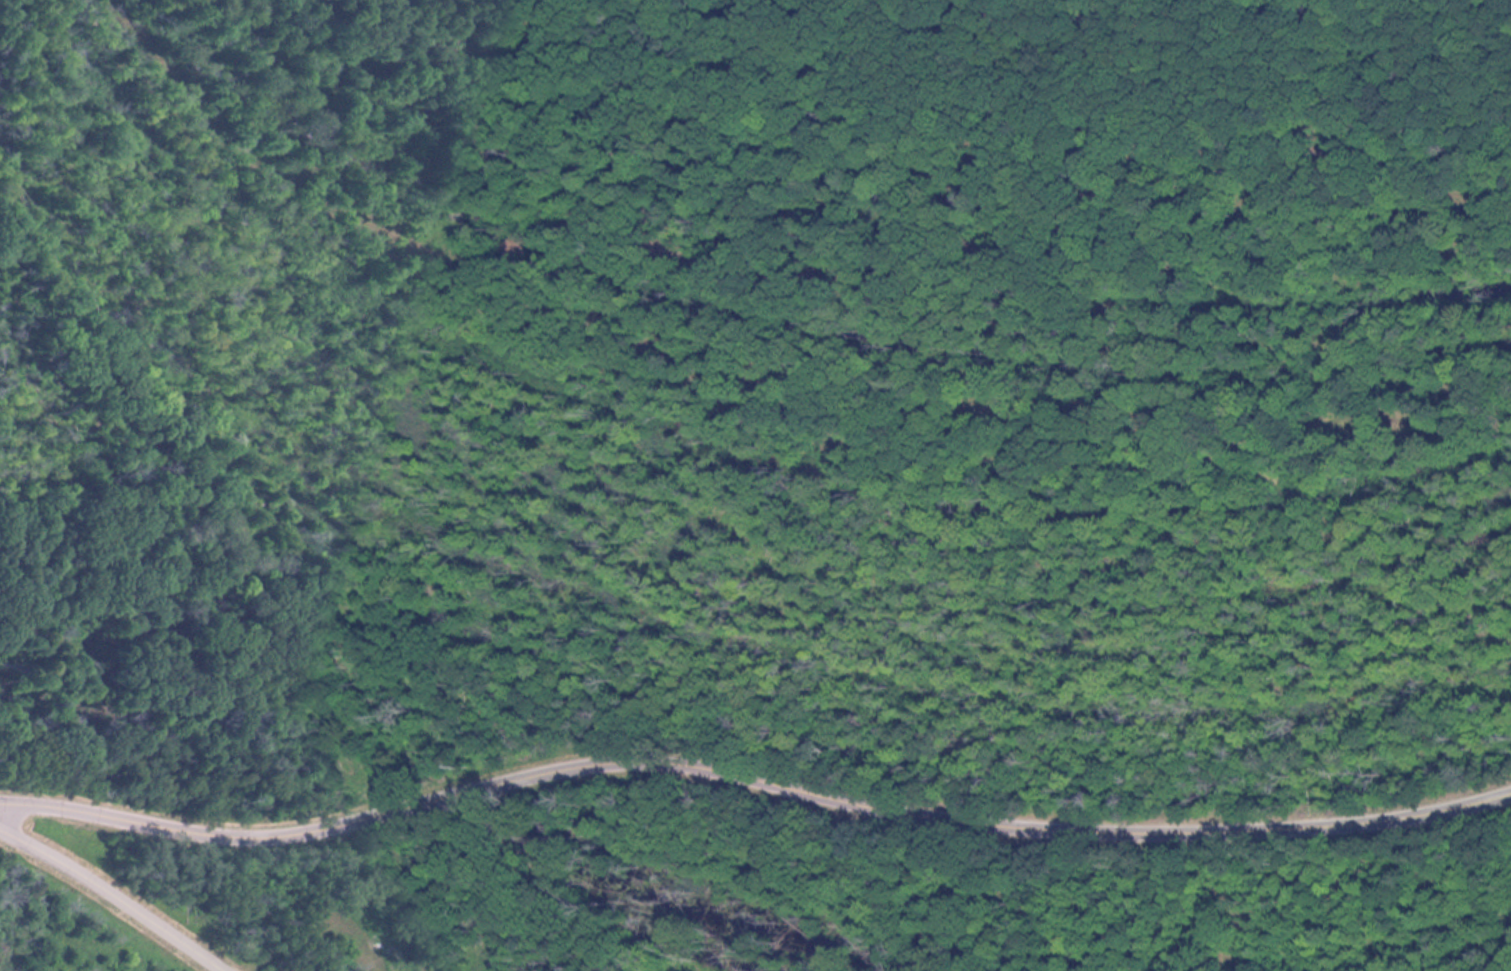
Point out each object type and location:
road: (753, 778)
road: (118, 894)

